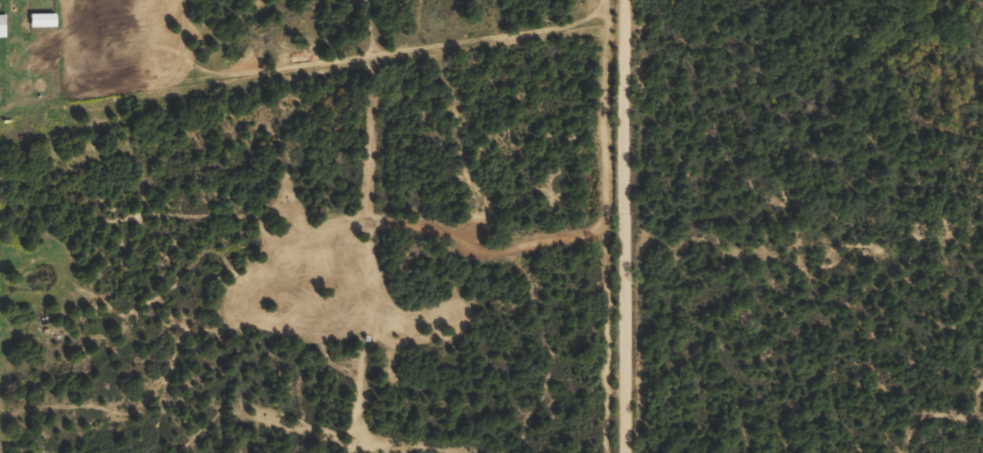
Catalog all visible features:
building: (36, 0)
building: (38, 28)
building: (0, 34)
road: (635, 226)

